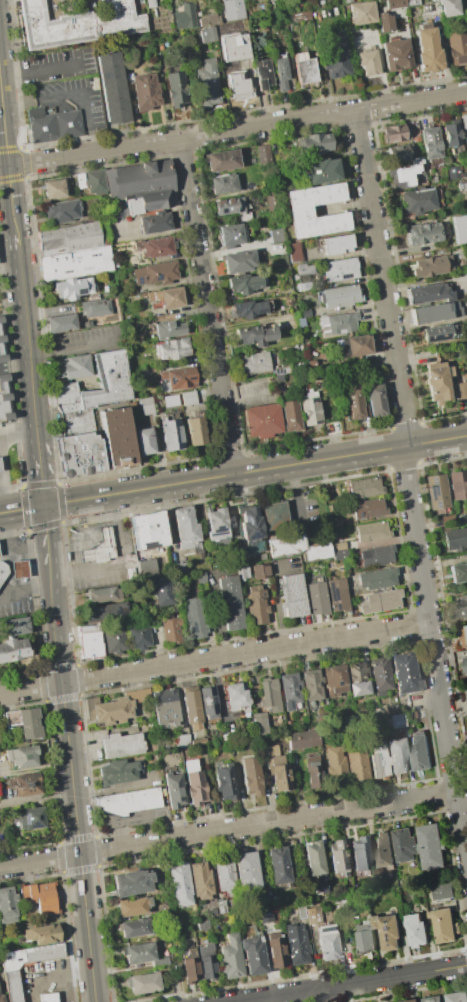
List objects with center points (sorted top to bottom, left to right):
building: (347, 1)
building: (150, 4)
building: (396, 4)
building: (175, 5)
building: (450, 8)
building: (233, 10)
building: (362, 13)
building: (314, 15)
building: (301, 16)
building: (208, 20)
building: (385, 22)
building: (77, 24)
building: (211, 35)
building: (233, 47)
building: (457, 48)
building: (427, 49)
building: (396, 55)
building: (336, 57)
building: (367, 62)
building: (304, 69)
road: (39, 70)
building: (284, 74)
building: (263, 75)
building: (207, 83)
building: (236, 85)
building: (112, 88)
building: (175, 88)
building: (146, 92)
road: (430, 98)
road: (373, 102)
road: (81, 104)
road: (375, 113)
building: (52, 124)
building: (464, 129)
building: (394, 134)
building: (451, 135)
road: (177, 138)
building: (431, 143)
building: (312, 145)
building: (398, 154)
building: (263, 155)
building: (222, 161)
road: (5, 165)
building: (320, 171)
building: (453, 172)
building: (406, 174)
building: (79, 180)
building: (94, 181)
building: (223, 184)
building: (140, 185)
building: (55, 189)
building: (272, 201)
building: (417, 201)
building: (229, 206)
building: (299, 209)
building: (62, 212)
building: (155, 223)
building: (460, 228)
building: (424, 234)
building: (230, 235)
building: (276, 236)
building: (71, 238)
building: (337, 244)
building: (156, 247)
building: (295, 253)
road: (379, 259)
building: (239, 262)
building: (75, 264)
building: (432, 266)
building: (302, 269)
road: (8, 270)
building: (341, 270)
building: (155, 274)
building: (244, 284)
building: (299, 285)
road: (204, 288)
building: (72, 289)
building: (428, 293)
building: (339, 296)
building: (167, 298)
building: (95, 308)
building: (248, 309)
building: (435, 312)
building: (303, 313)
building: (0, 320)
building: (300, 322)
building: (339, 323)
building: (60, 324)
building: (86, 324)
building: (169, 329)
building: (437, 333)
building: (256, 334)
road: (24, 338)
building: (358, 345)
building: (1, 346)
road: (68, 349)
building: (173, 349)
building: (255, 364)
road: (13, 365)
building: (71, 368)
building: (281, 371)
building: (179, 377)
building: (279, 379)
building: (438, 382)
building: (113, 384)
building: (460, 390)
building: (187, 398)
building: (4, 400)
building: (170, 401)
building: (375, 401)
building: (355, 404)
building: (146, 407)
building: (309, 408)
building: (290, 417)
building: (262, 421)
building: (76, 422)
road: (401, 426)
road: (410, 427)
building: (196, 431)
building: (171, 434)
road: (17, 437)
building: (117, 438)
building: (144, 441)
building: (79, 455)
road: (234, 455)
road: (228, 456)
building: (0, 468)
road: (255, 471)
building: (0, 472)
road: (39, 474)
building: (458, 485)
building: (365, 487)
building: (438, 492)
traffic signals: (43, 506)
building: (368, 508)
road: (21, 509)
building: (328, 509)
building: (275, 518)
building: (448, 521)
building: (250, 523)
building: (335, 523)
building: (217, 524)
building: (186, 528)
building: (147, 530)
building: (372, 531)
road: (46, 539)
building: (455, 539)
building: (104, 545)
building: (296, 548)
building: (340, 554)
building: (86, 555)
building: (376, 556)
road: (120, 563)
building: (161, 565)
building: (179, 568)
building: (19, 569)
building: (3, 570)
gas station: (3, 570)
building: (147, 570)
building: (258, 570)
building: (241, 571)
building: (458, 572)
building: (200, 577)
building: (377, 579)
building: (161, 591)
road: (26, 595)
building: (102, 595)
building: (292, 595)
building: (337, 595)
building: (316, 598)
building: (380, 601)
building: (230, 602)
building: (256, 607)
building: (462, 607)
building: (104, 612)
building: (194, 617)
building: (13, 627)
building: (466, 628)
building: (170, 629)
building: (139, 637)
building: (91, 641)
building: (114, 641)
road: (433, 649)
building: (12, 650)
road: (214, 657)
building: (463, 660)
building: (380, 673)
building: (404, 673)
building: (356, 678)
building: (335, 680)
building: (312, 685)
building: (290, 689)
building: (269, 695)
building: (236, 698)
building: (208, 702)
building: (191, 706)
building: (113, 707)
building: (165, 707)
building: (397, 721)
building: (29, 723)
building: (259, 724)
building: (301, 739)
building: (181, 740)
building: (201, 742)
building: (122, 744)
building: (420, 751)
building: (22, 756)
building: (397, 756)
building: (378, 759)
building: (334, 763)
building: (356, 763)
building: (276, 767)
building: (313, 771)
building: (117, 772)
building: (251, 776)
building: (26, 783)
building: (194, 783)
building: (225, 783)
road: (72, 787)
building: (173, 789)
road: (110, 790)
building: (129, 801)
building: (31, 818)
road: (228, 829)
building: (405, 845)
building: (432, 845)
building: (384, 849)
building: (360, 853)
building: (338, 856)
building: (278, 865)
building: (316, 865)
building: (245, 870)
building: (224, 875)
building: (200, 880)
building: (131, 883)
building: (180, 884)
building: (442, 890)
building: (263, 894)
building: (39, 897)
building: (7, 905)
building: (133, 906)
building: (221, 907)
building: (300, 912)
building: (313, 915)
building: (265, 916)
building: (178, 920)
building: (444, 924)
building: (203, 925)
building: (134, 927)
building: (417, 929)
building: (389, 931)
building: (41, 934)
building: (366, 938)
building: (168, 942)
building: (327, 942)
building: (296, 944)
building: (275, 948)
building: (139, 953)
building: (252, 955)
building: (230, 957)
building: (207, 962)
building: (189, 964)
road: (49, 978)
road: (352, 982)
building: (143, 983)
building: (11, 985)
building: (47, 996)
building: (458, 997)
building: (1, 998)
building: (432, 998)
building: (411, 1000)

